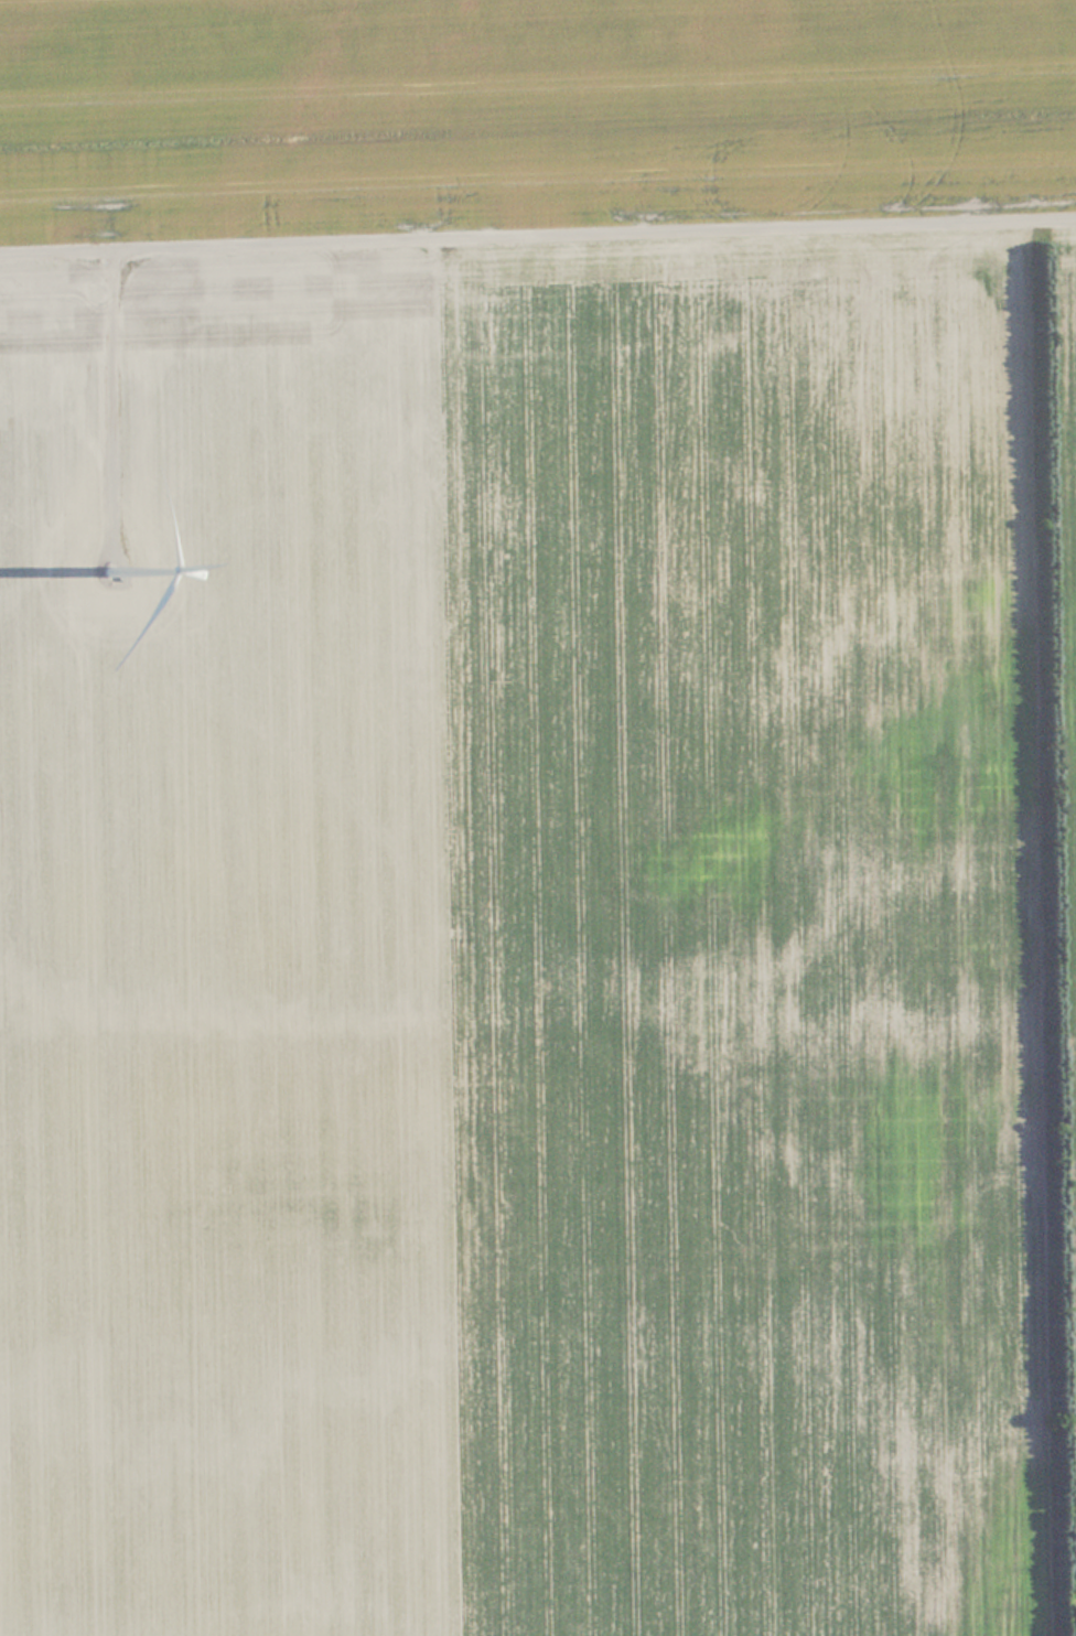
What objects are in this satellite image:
road: (537, 230)
road: (111, 363)
wind turbine: (116, 578)

